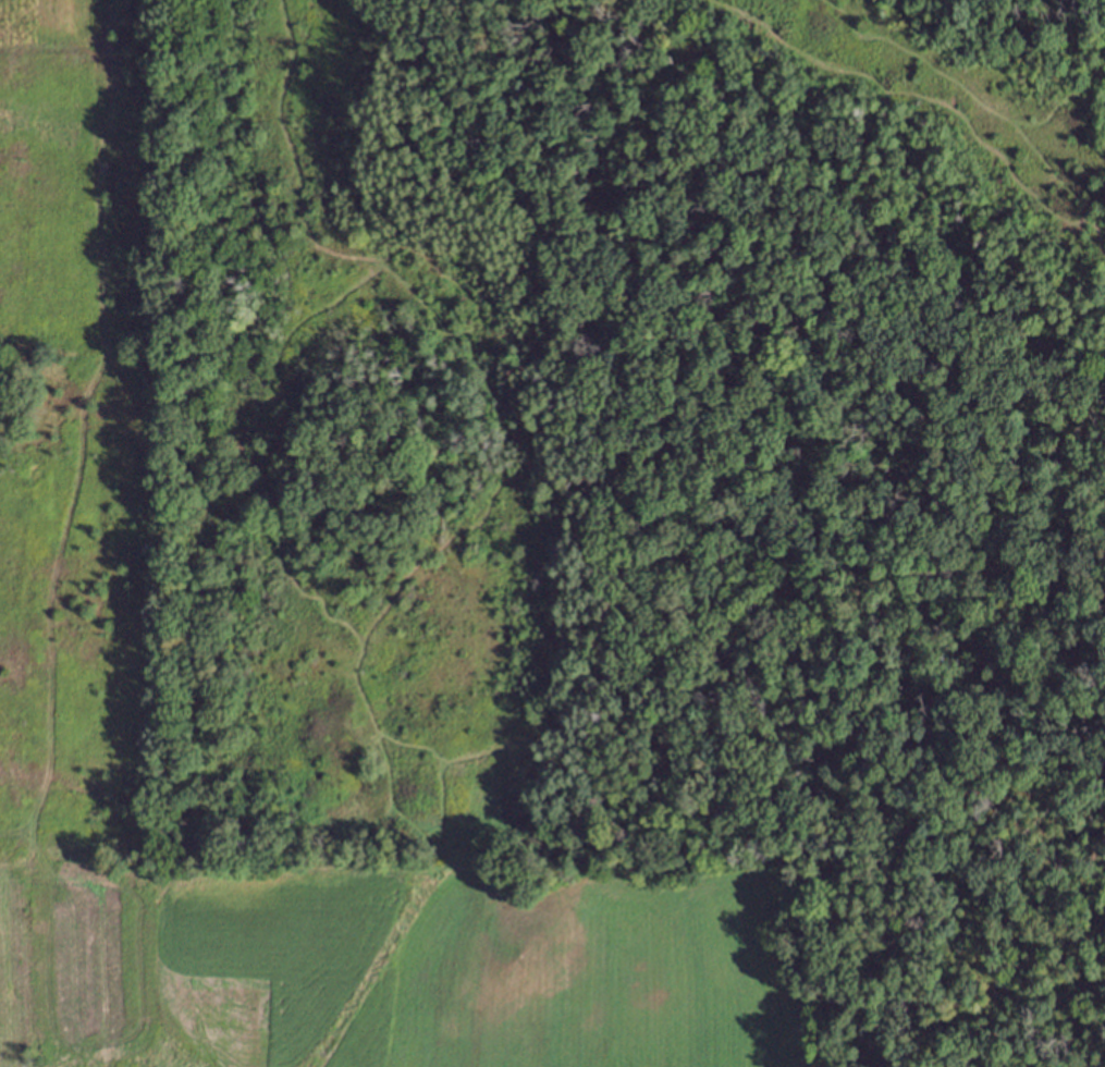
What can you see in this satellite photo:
building: (427, 886)

